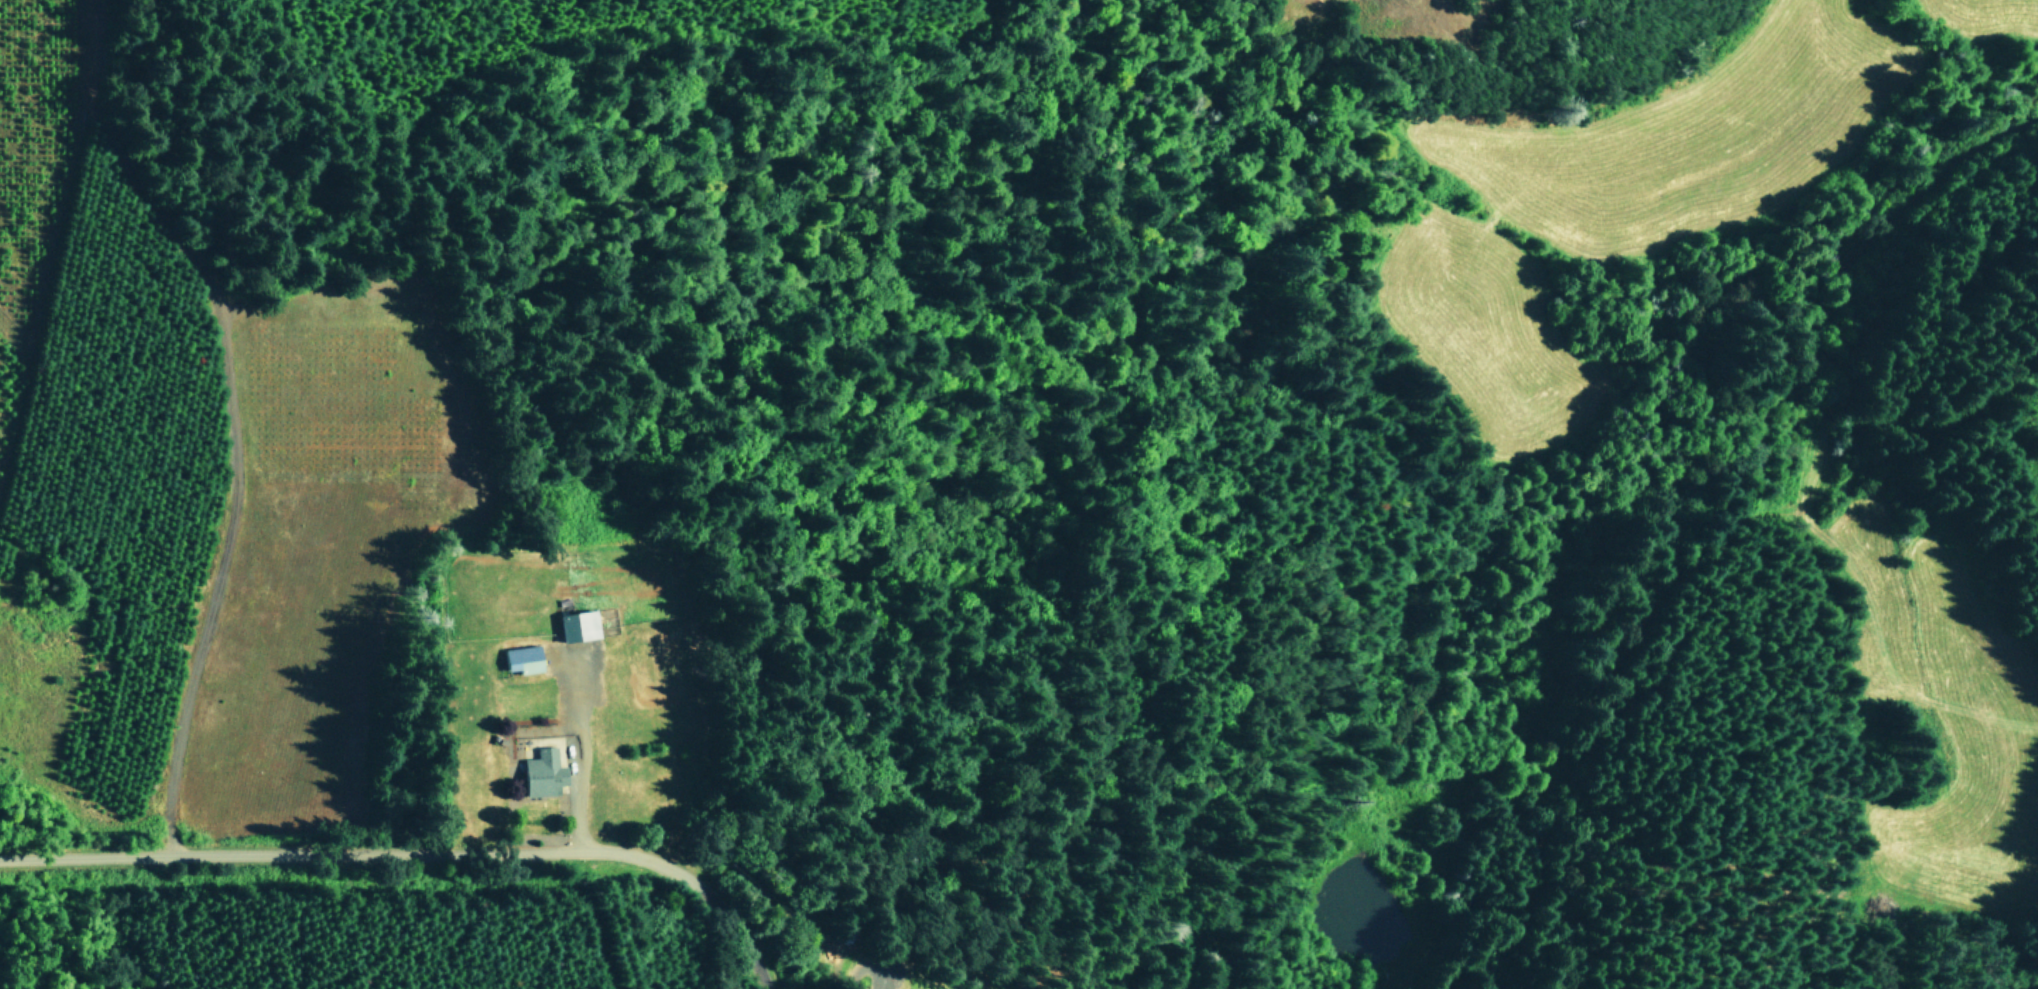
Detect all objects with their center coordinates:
road: (240, 416)
road: (748, 477)
building: (580, 624)
building: (524, 658)
road: (577, 747)
building: (545, 772)
road: (398, 851)
road: (761, 973)

